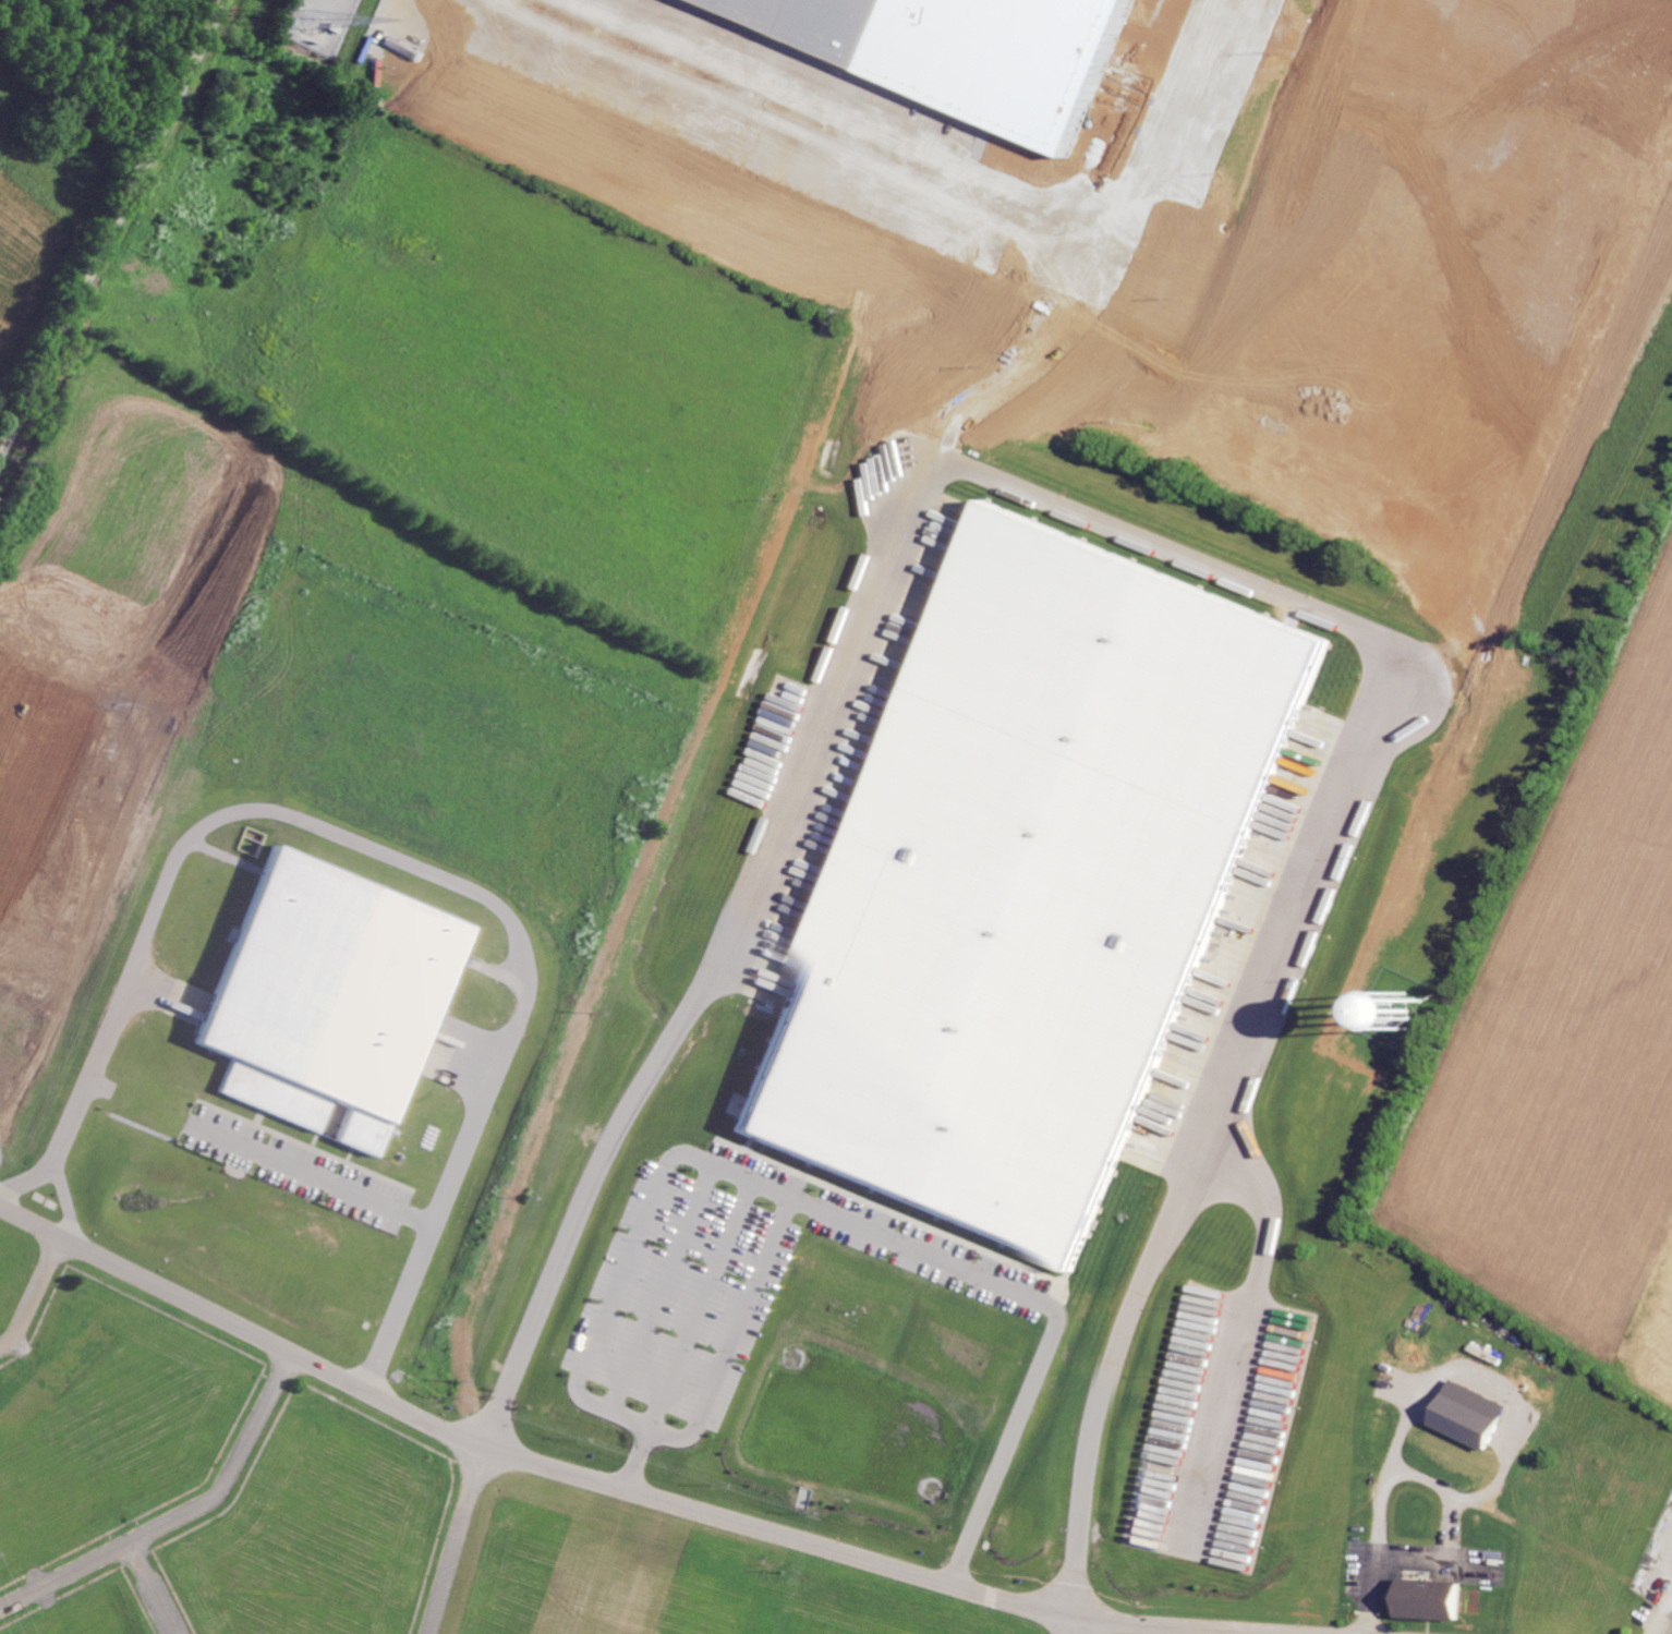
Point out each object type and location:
building: (950, 51)
road: (812, 128)
road: (1166, 128)
road: (111, 230)
road: (1030, 363)
road: (1139, 535)
building: (109, 730)
road: (352, 850)
building: (1029, 883)
building: (325, 995)
water tower: (1405, 1013)
building: (335, 1114)
road: (747, 1177)
road: (32, 1184)
road: (66, 1202)
road: (393, 1217)
road: (663, 1290)
road: (34, 1296)
road: (701, 1307)
road: (1055, 1312)
road: (1241, 1338)
building: (1467, 1423)
road: (1440, 1487)
road: (621, 1491)
road: (179, 1515)
road: (455, 1541)
road: (1669, 1562)
road: (153, 1588)
road: (1370, 1595)
building: (1427, 1601)
road: (1660, 1613)
road: (1071, 1626)

